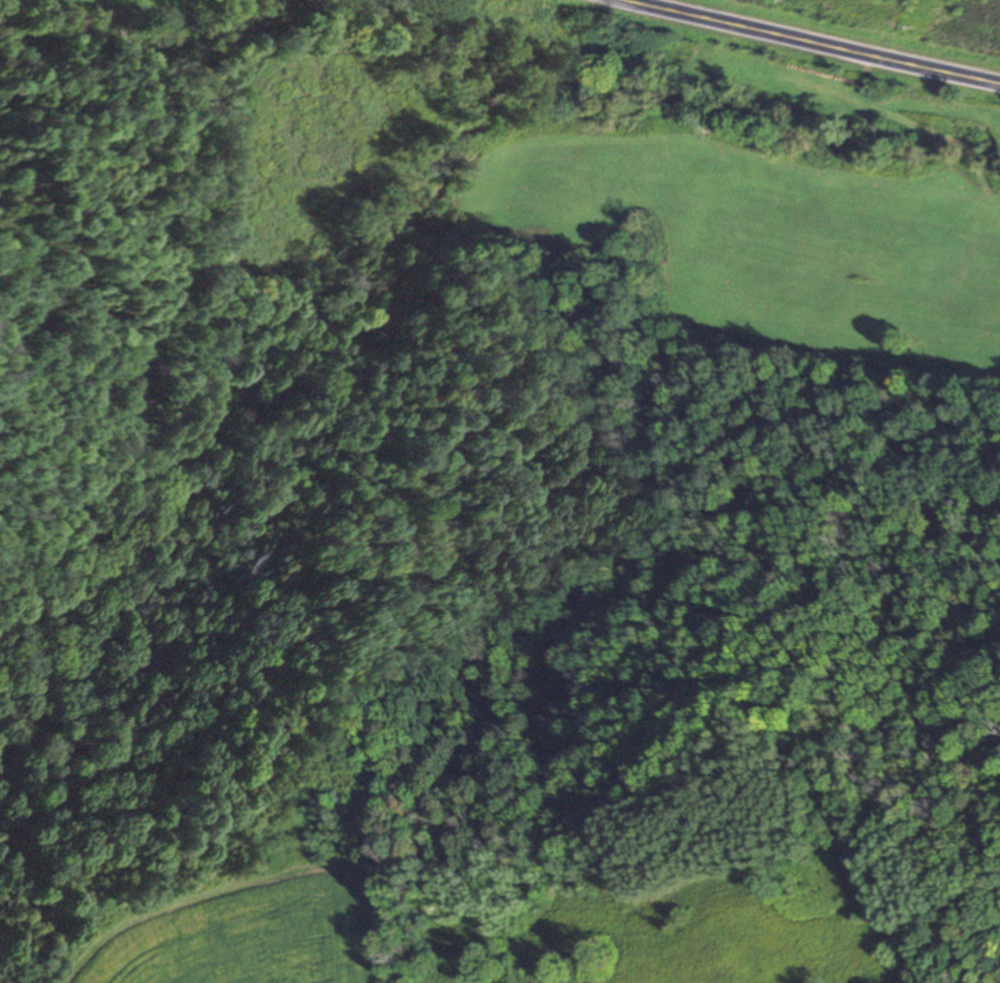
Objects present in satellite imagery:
road: (801, 42)

